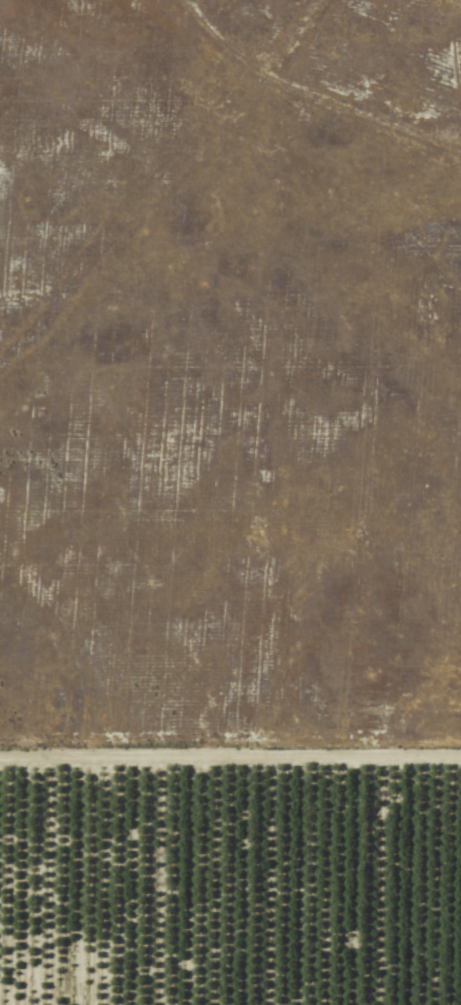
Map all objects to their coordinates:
road: (230, 681)

